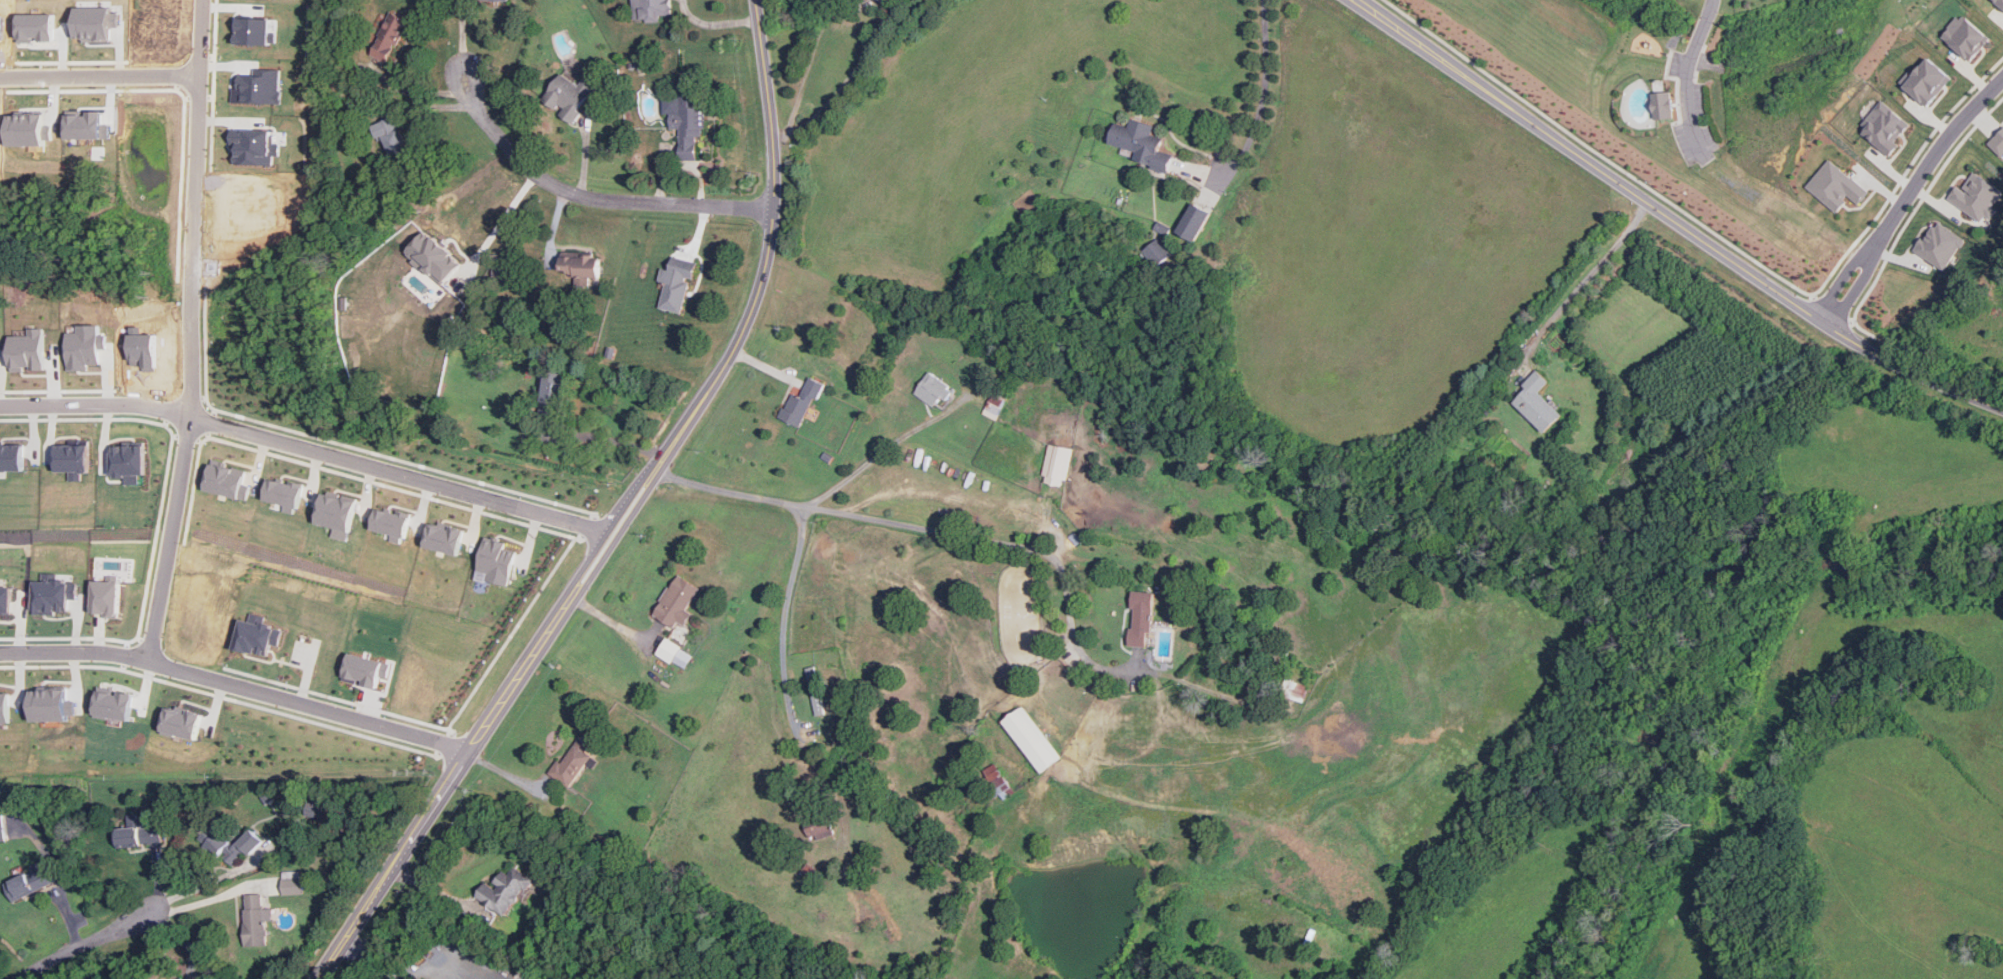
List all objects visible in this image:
building: (887, 1)
building: (1999, 3)
building: (652, 9)
road: (716, 19)
building: (256, 30)
road: (462, 36)
building: (1965, 36)
building: (390, 37)
road: (811, 64)
road: (99, 75)
road: (1687, 78)
building: (1925, 80)
building: (258, 87)
road: (836, 92)
road: (419, 93)
building: (569, 96)
road: (1261, 96)
building: (1662, 100)
road: (426, 107)
building: (690, 125)
building: (1883, 126)
building: (393, 137)
building: (1998, 143)
building: (1140, 144)
building: (1835, 185)
road: (1907, 195)
building: (1977, 197)
road: (590, 198)
road: (1673, 219)
building: (1197, 221)
road: (513, 222)
road: (771, 240)
building: (1939, 244)
building: (1158, 252)
building: (434, 257)
building: (582, 266)
road: (1589, 276)
building: (676, 287)
road: (195, 331)
building: (86, 346)
building: (28, 349)
building: (933, 389)
building: (554, 397)
building: (997, 401)
building: (1538, 402)
road: (96, 404)
building: (797, 407)
road: (610, 440)
road: (879, 450)
building: (11, 457)
building: (72, 459)
building: (128, 461)
building: (1058, 463)
road: (658, 464)
road: (399, 472)
building: (226, 480)
road: (728, 489)
building: (283, 492)
building: (336, 510)
building: (391, 523)
road: (607, 529)
road: (617, 535)
building: (445, 537)
road: (1011, 542)
building: (498, 560)
building: (55, 595)
building: (107, 598)
building: (6, 600)
building: (678, 601)
building: (1141, 619)
building: (257, 636)
building: (671, 650)
road: (74, 652)
road: (782, 662)
building: (365, 670)
building: (1295, 690)
building: (817, 691)
building: (114, 703)
building: (52, 704)
road: (311, 704)
building: (5, 706)
building: (182, 721)
building: (1031, 740)
building: (573, 762)
building: (998, 779)
road: (450, 786)
building: (2, 828)
building: (821, 831)
building: (140, 835)
building: (237, 847)
building: (32, 881)
building: (293, 883)
building: (505, 890)
road: (197, 903)
building: (258, 917)
road: (86, 943)
building: (183, 978)
building: (189, 978)

